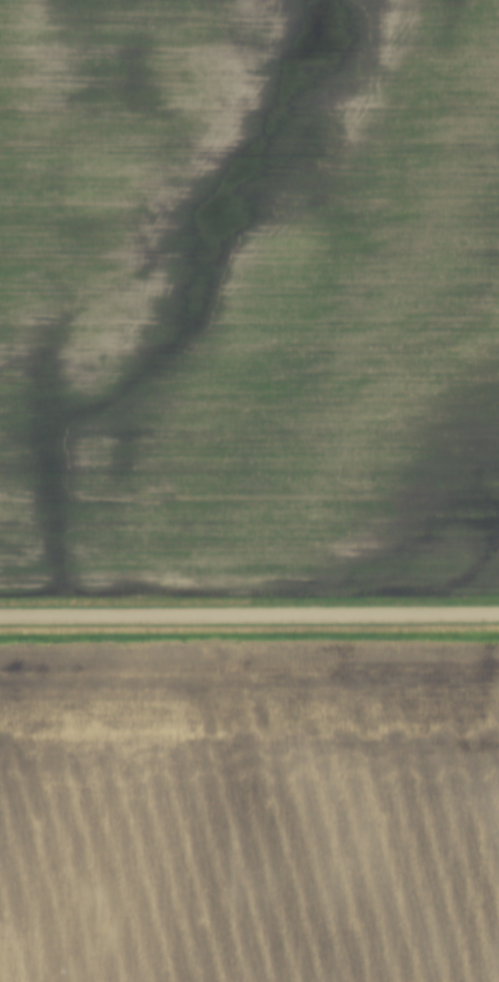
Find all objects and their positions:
road: (249, 613)

